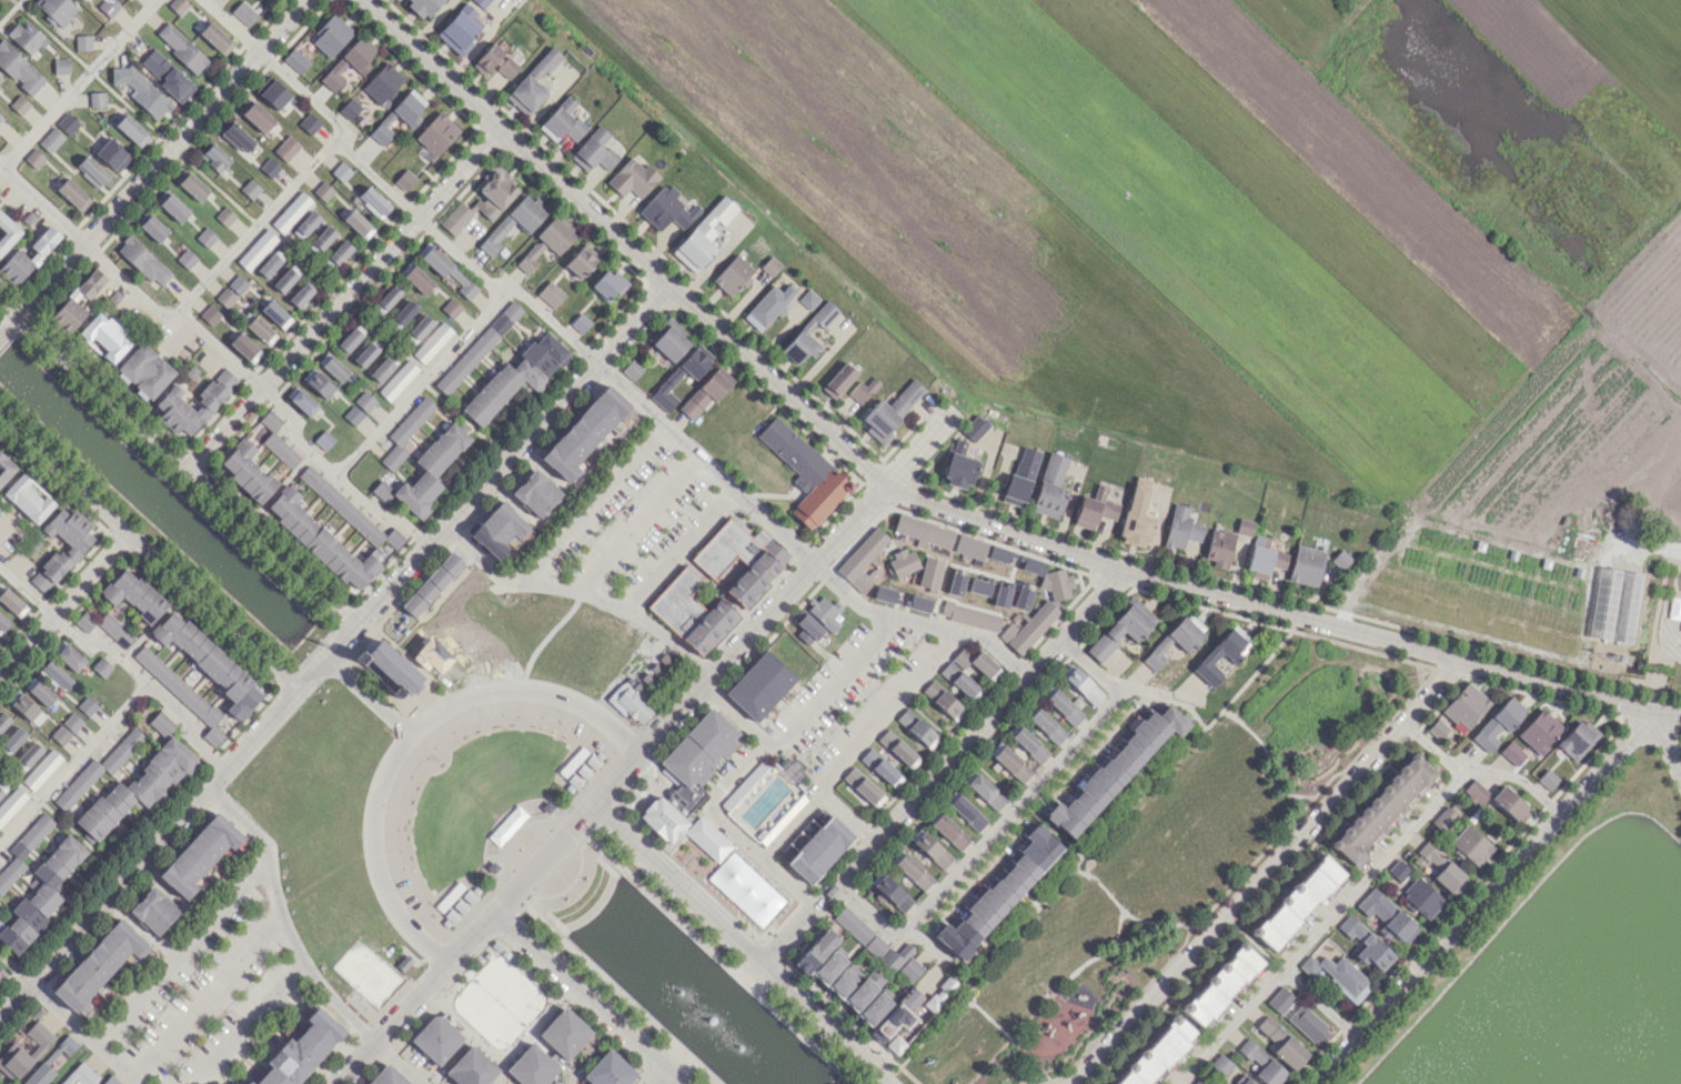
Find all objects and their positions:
building: (481, 2)
building: (177, 4)
building: (108, 6)
building: (422, 7)
building: (56, 9)
building: (243, 12)
road: (229, 24)
building: (461, 29)
building: (330, 34)
building: (24, 36)
building: (214, 38)
building: (82, 42)
building: (180, 48)
building: (294, 60)
building: (494, 61)
building: (349, 62)
building: (60, 67)
building: (18, 70)
building: (165, 74)
building: (0, 78)
building: (0, 79)
road: (76, 81)
building: (381, 82)
building: (533, 83)
building: (140, 90)
building: (275, 97)
building: (95, 99)
building: (19, 104)
building: (349, 108)
building: (397, 116)
building: (0, 117)
building: (258, 118)
building: (562, 121)
building: (67, 123)
building: (309, 123)
building: (130, 130)
building: (436, 133)
building: (50, 140)
building: (239, 140)
building: (285, 148)
building: (594, 151)
building: (110, 154)
road: (160, 157)
building: (214, 158)
building: (33, 159)
building: (269, 167)
building: (340, 171)
building: (90, 172)
building: (632, 178)
building: (404, 179)
building: (192, 187)
building: (249, 188)
building: (322, 191)
building: (494, 192)
building: (71, 194)
building: (372, 202)
road: (42, 203)
building: (173, 208)
building: (666, 209)
building: (291, 212)
road: (415, 214)
building: (224, 215)
building: (455, 218)
building: (513, 222)
building: (356, 223)
building: (305, 224)
building: (152, 228)
road: (251, 229)
building: (7, 233)
building: (204, 237)
building: (703, 237)
building: (322, 239)
building: (546, 242)
building: (256, 250)
building: (338, 252)
building: (28, 257)
building: (185, 258)
building: (142, 260)
building: (581, 260)
building: (769, 265)
building: (278, 270)
building: (445, 270)
building: (733, 275)
building: (416, 279)
building: (236, 284)
building: (607, 284)
building: (301, 293)
building: (551, 293)
building: (70, 297)
road: (341, 297)
building: (225, 298)
building: (808, 299)
building: (386, 300)
building: (768, 307)
building: (450, 308)
building: (273, 312)
building: (402, 313)
building: (209, 315)
building: (580, 322)
road: (9, 323)
building: (260, 328)
building: (417, 329)
building: (802, 331)
building: (104, 335)
building: (350, 337)
building: (670, 340)
building: (432, 342)
building: (244, 345)
building: (476, 345)
building: (364, 351)
building: (332, 365)
building: (381, 365)
building: (144, 369)
building: (632, 369)
building: (515, 377)
building: (674, 377)
building: (396, 379)
building: (838, 380)
building: (320, 383)
road: (422, 383)
road: (261, 389)
building: (863, 390)
building: (707, 392)
building: (906, 397)
building: (301, 399)
building: (364, 400)
building: (191, 403)
building: (353, 415)
building: (269, 419)
building: (880, 421)
building: (974, 428)
building: (584, 430)
building: (404, 432)
building: (323, 440)
building: (280, 450)
road: (703, 459)
road: (175, 460)
building: (4, 465)
building: (958, 466)
building: (245, 471)
building: (805, 471)
building: (425, 472)
building: (1020, 478)
building: (1049, 486)
building: (535, 493)
building: (28, 495)
road: (925, 498)
road: (594, 503)
building: (1094, 508)
building: (348, 510)
building: (1136, 514)
road: (633, 521)
building: (499, 526)
building: (1244, 526)
building: (1180, 528)
building: (923, 531)
building: (320, 540)
building: (61, 543)
road: (1649, 544)
building: (969, 546)
building: (1218, 548)
road: (683, 551)
road: (147, 553)
building: (1003, 553)
building: (738, 556)
building: (862, 558)
building: (1262, 558)
building: (902, 562)
building: (1031, 565)
building: (1305, 565)
building: (929, 573)
building: (431, 581)
building: (955, 583)
building: (1055, 583)
building: (979, 585)
road: (26, 592)
road: (577, 592)
building: (884, 593)
building: (133, 594)
building: (1000, 596)
building: (1021, 598)
building: (11, 601)
road: (63, 603)
building: (919, 603)
building: (1613, 604)
building: (691, 609)
building: (1674, 609)
building: (825, 612)
building: (969, 615)
building: (2, 621)
building: (84, 621)
road: (915, 623)
building: (1027, 626)
building: (807, 629)
building: (1121, 629)
building: (115, 630)
building: (1680, 630)
road: (344, 631)
building: (1175, 639)
building: (68, 656)
building: (1208, 658)
building: (209, 662)
building: (975, 662)
building: (1222, 664)
building: (101, 666)
building: (390, 669)
building: (54, 675)
road: (147, 680)
building: (959, 681)
building: (1080, 684)
building: (759, 685)
building: (640, 690)
building: (39, 691)
road: (1148, 691)
building: (181, 692)
road: (365, 694)
building: (943, 700)
building: (22, 705)
building: (85, 705)
building: (1064, 706)
building: (1464, 706)
road: (1665, 710)
road: (802, 717)
building: (3, 720)
building: (71, 722)
building: (161, 723)
building: (1497, 723)
building: (1046, 725)
building: (917, 727)
building: (1437, 729)
building: (1539, 731)
building: (60, 734)
road: (856, 734)
road: (405, 735)
building: (1576, 739)
building: (11, 741)
road: (1665, 741)
building: (1027, 743)
building: (898, 749)
road: (1430, 749)
road: (637, 751)
building: (1512, 753)
building: (27, 754)
building: (696, 757)
road: (74, 761)
building: (1011, 763)
road: (939, 766)
building: (98, 767)
building: (880, 767)
building: (41, 769)
building: (1114, 770)
building: (1547, 779)
building: (864, 786)
building: (137, 787)
building: (1, 789)
building: (984, 790)
building: (1474, 792)
building: (764, 801)
park: (481, 802)
building: (1508, 802)
building: (11, 803)
building: (1381, 807)
road: (1008, 811)
building: (967, 812)
building: (663, 820)
road: (791, 824)
building: (507, 825)
road: (728, 827)
building: (949, 831)
building: (707, 839)
building: (1470, 845)
building: (22, 849)
building: (819, 849)
building: (930, 849)
building: (198, 854)
park: (1164, 864)
building: (1440, 867)
building: (912, 870)
building: (1398, 870)
road: (1266, 872)
road: (1355, 887)
building: (745, 889)
building: (890, 891)
building: (999, 893)
building: (40, 894)
road: (1480, 896)
building: (1420, 897)
building: (1297, 902)
building: (152, 911)
road: (282, 916)
building: (1386, 916)
building: (853, 925)
building: (1367, 944)
road: (741, 945)
building: (876, 946)
road: (180, 948)
building: (816, 951)
building: (895, 958)
building: (98, 965)
building: (829, 965)
road: (13, 968)
building: (910, 968)
building: (1, 974)
building: (1338, 975)
building: (844, 980)
building: (1221, 984)
road: (577, 992)
building: (859, 994)
building: (940, 994)
road: (205, 995)
road: (13, 997)
building: (912, 997)
building: (1280, 1000)
road: (1317, 1004)
building: (874, 1007)
road: (248, 1025)
building: (1308, 1025)
building: (892, 1028)
road: (82, 1033)
building: (564, 1033)
building: (435, 1038)
building: (1280, 1041)
building: (67, 1044)
building: (300, 1050)
building: (23, 1052)
building: (1158, 1053)
building: (1250, 1058)
road: (397, 1062)
building: (1220, 1064)
building: (531, 1066)
building: (471, 1067)
building: (607, 1071)
building: (38, 1074)
building: (80, 1075)
road: (655, 1075)
road: (672, 1075)
building: (386, 1076)
building: (110, 1080)
building: (1246, 1081)
building: (248, 1082)
building: (1196, 1082)

